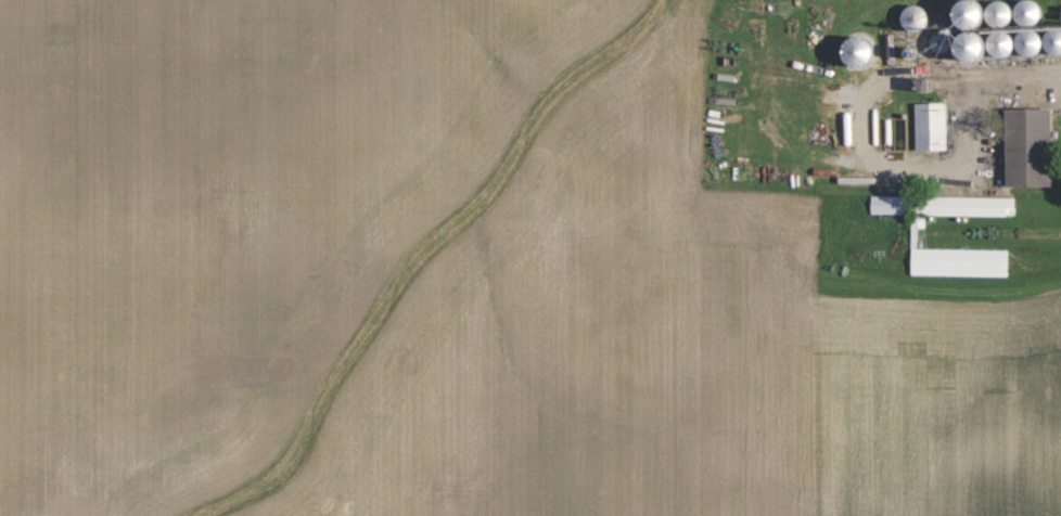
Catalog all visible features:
building: (1008, 26)
road: (1045, 75)
building: (930, 126)
building: (1027, 146)
building: (959, 262)

